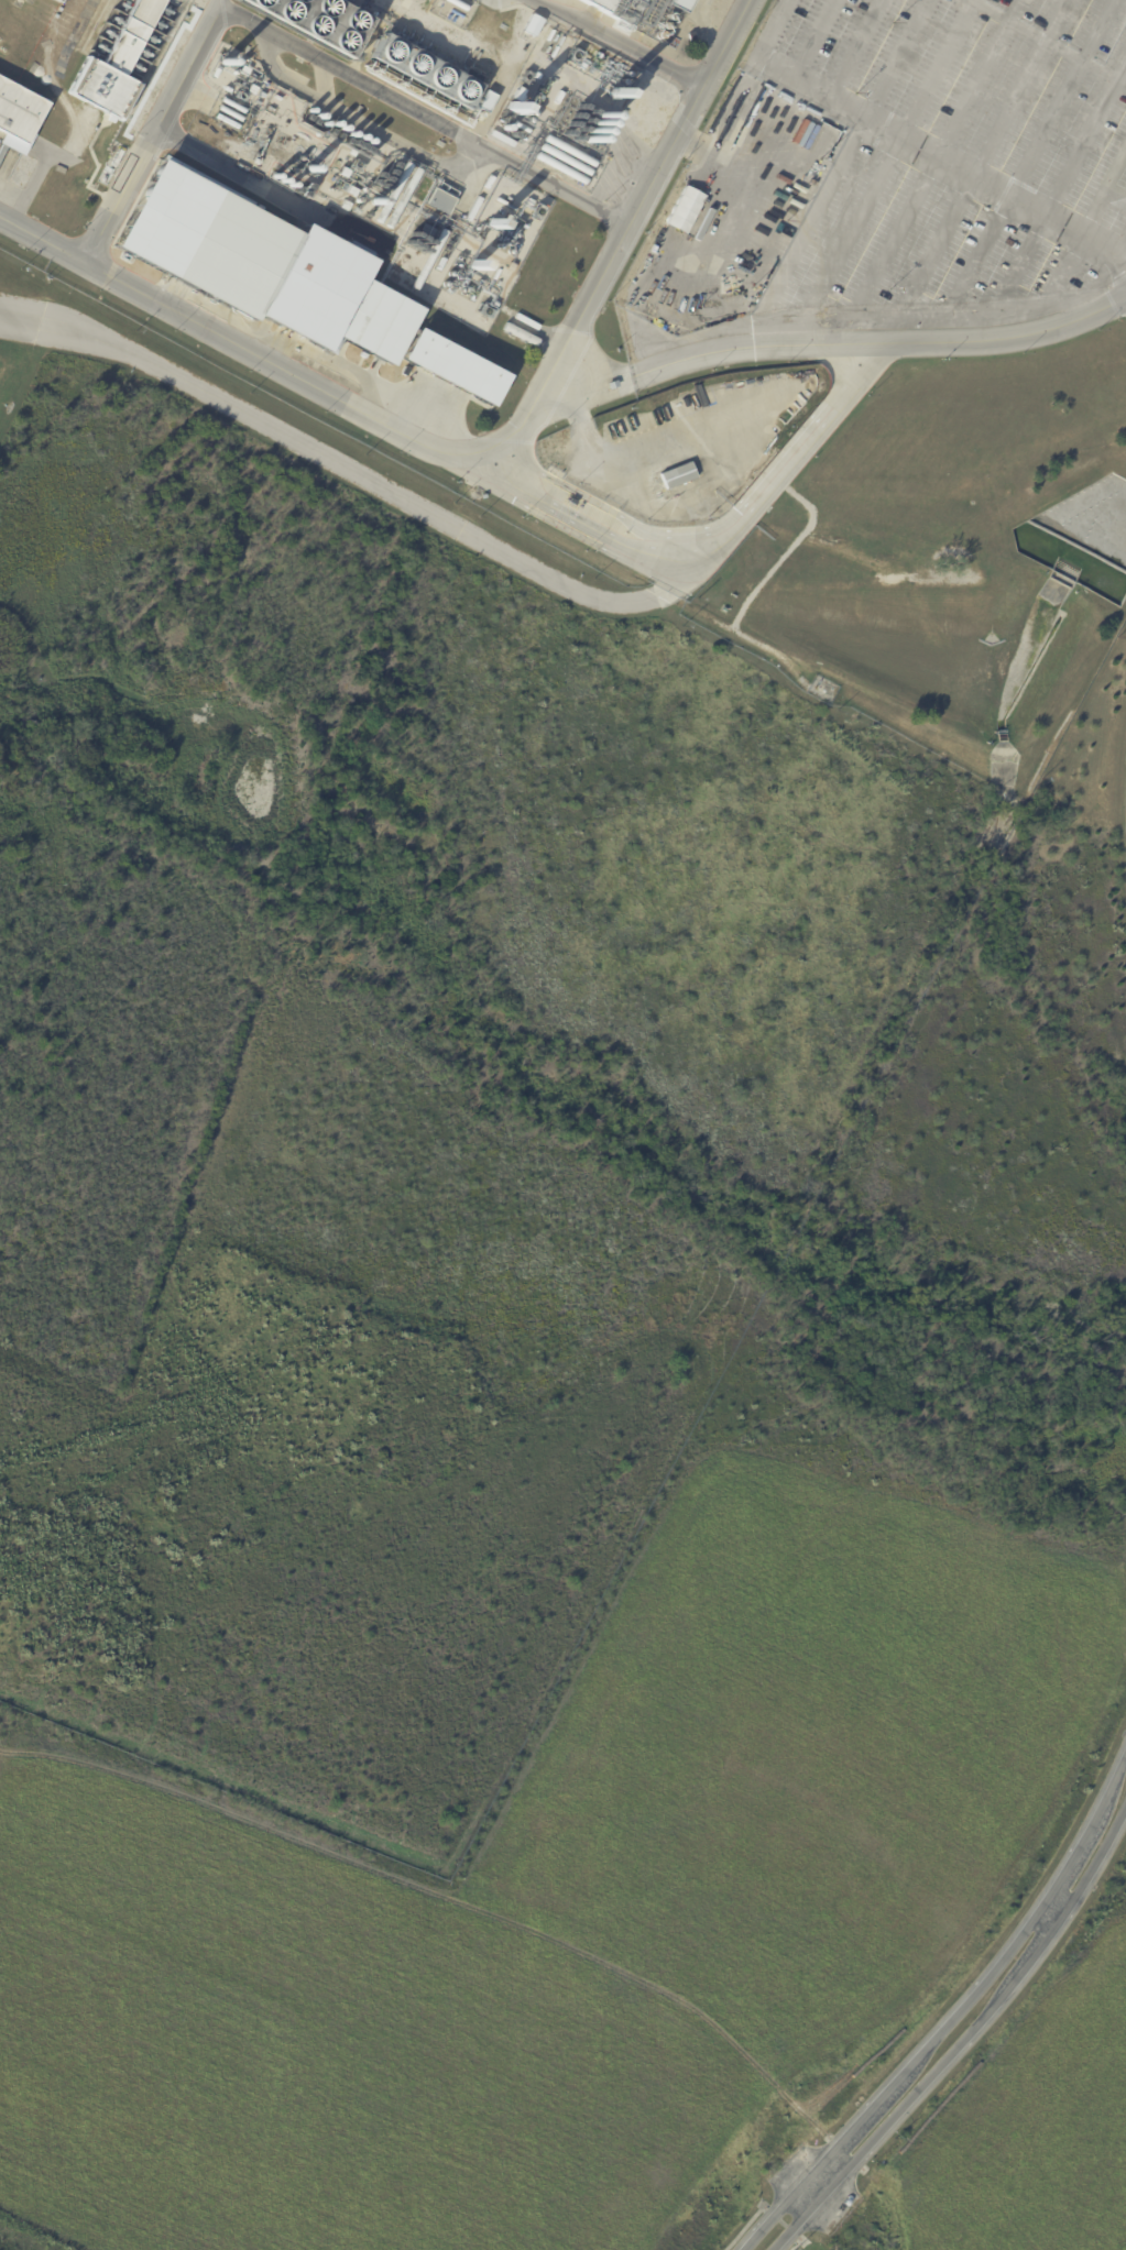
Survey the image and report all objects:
building: (61, 0)
building: (658, 3)
building: (600, 4)
building: (678, 4)
road: (1058, 21)
road: (243, 25)
building: (534, 25)
road: (619, 42)
road: (857, 48)
building: (117, 64)
road: (1031, 69)
building: (518, 95)
road: (839, 102)
building: (19, 116)
road: (360, 127)
road: (152, 131)
road: (449, 134)
building: (256, 157)
building: (118, 158)
road: (838, 171)
road: (1068, 172)
road: (1114, 172)
building: (348, 174)
building: (445, 204)
road: (641, 204)
building: (347, 206)
building: (684, 209)
road: (1057, 221)
building: (217, 245)
road: (1123, 255)
road: (1070, 257)
road: (933, 260)
road: (882, 265)
building: (513, 268)
building: (278, 310)
building: (303, 318)
building: (379, 319)
road: (64, 331)
building: (452, 366)
road: (537, 413)
road: (642, 451)
building: (678, 476)
building: (623, 501)
road: (578, 522)
road: (529, 568)
road: (955, 2030)
park: (303, 2060)

